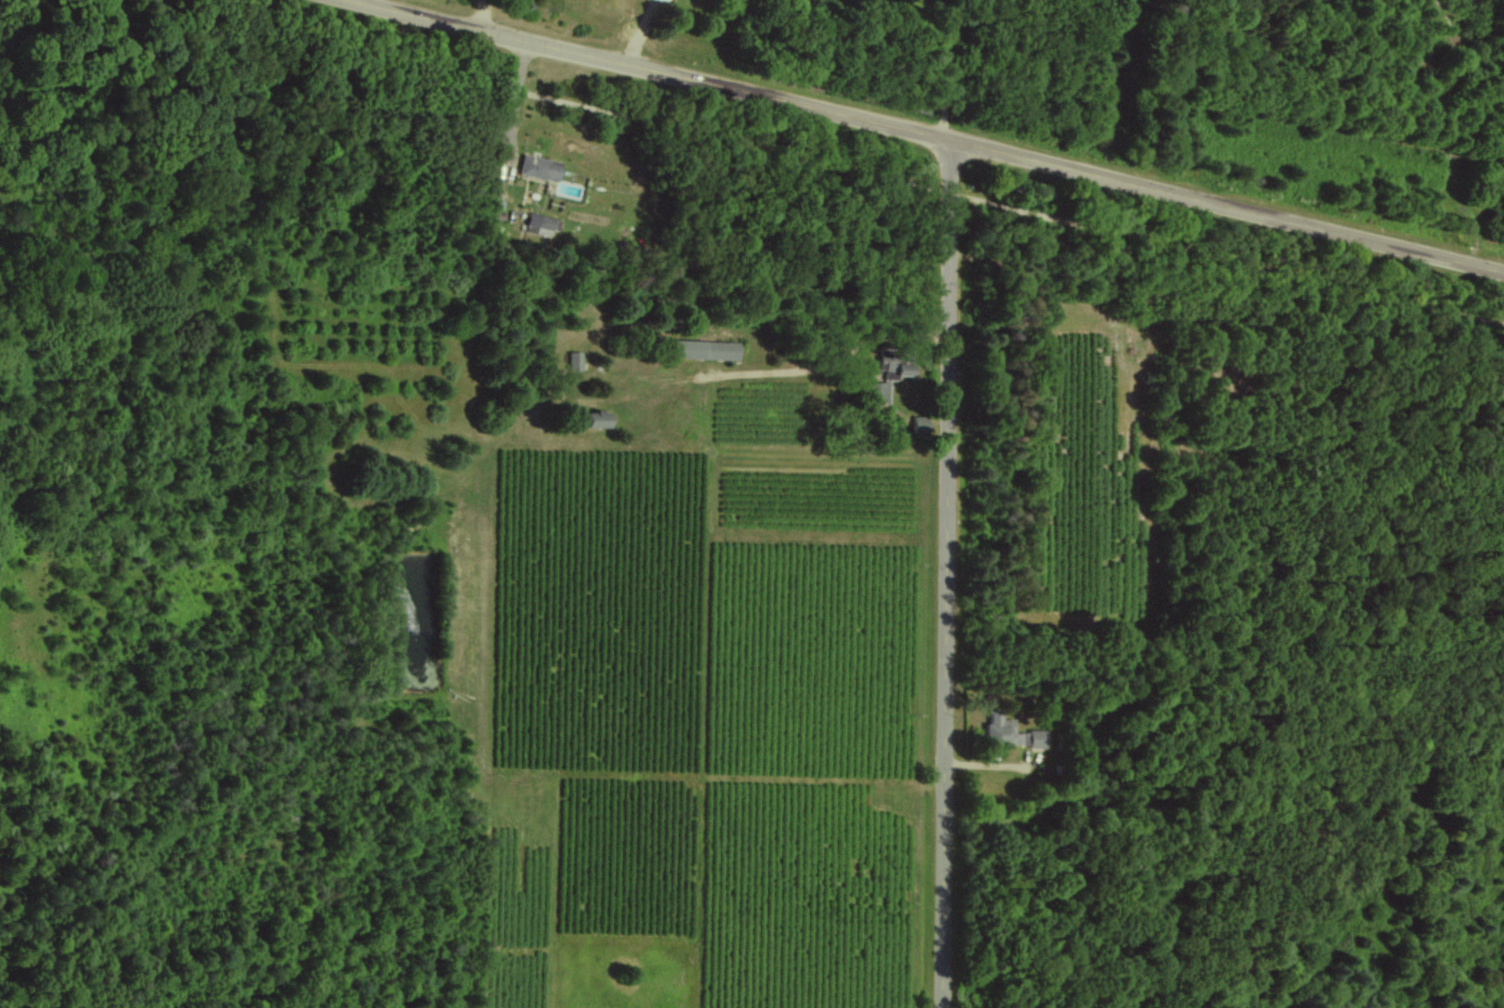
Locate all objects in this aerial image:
road: (936, 134)
road: (821, 163)
building: (540, 167)
building: (540, 224)
building: (707, 349)
building: (575, 359)
building: (893, 364)
building: (880, 391)
building: (600, 418)
building: (920, 424)
road: (945, 572)
building: (999, 729)
building: (1037, 738)

